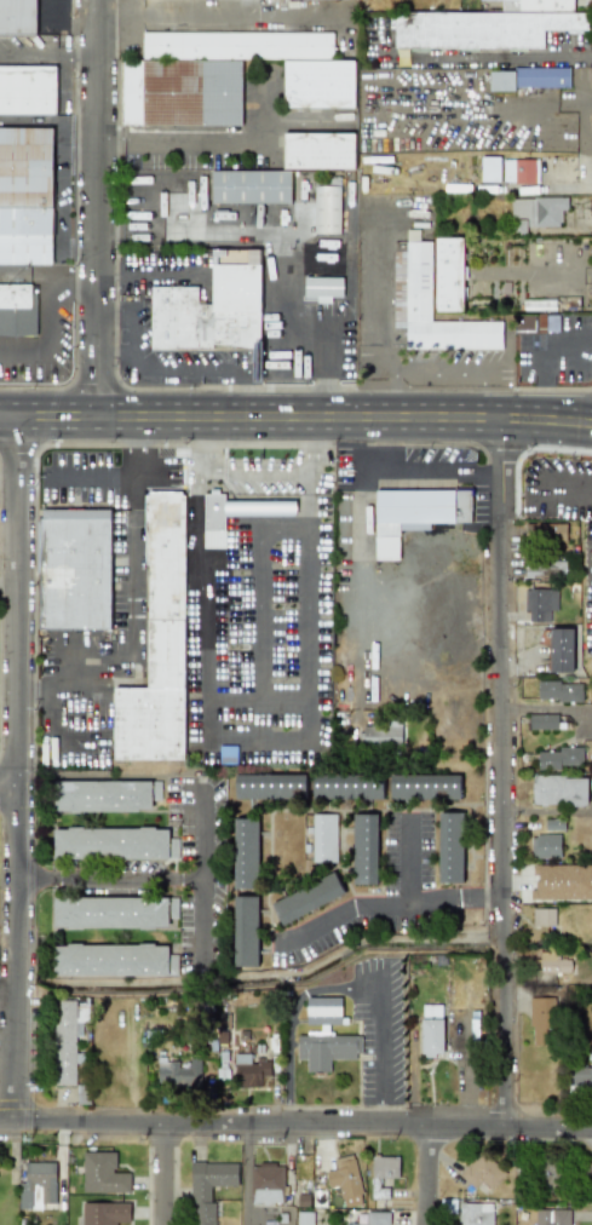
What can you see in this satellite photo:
road: (51, 11)
road: (218, 12)
building: (17, 16)
road: (130, 23)
building: (488, 25)
road: (50, 52)
road: (488, 56)
building: (202, 73)
building: (541, 76)
building: (500, 80)
building: (318, 84)
building: (27, 90)
road: (30, 121)
road: (235, 145)
building: (317, 150)
road: (61, 153)
building: (25, 167)
building: (488, 168)
building: (518, 171)
road: (168, 180)
building: (249, 186)
road: (99, 208)
building: (326, 209)
building: (535, 212)
building: (25, 236)
road: (293, 245)
road: (154, 271)
building: (448, 274)
building: (410, 281)
road: (74, 286)
building: (321, 288)
building: (211, 306)
building: (16, 309)
building: (535, 323)
road: (44, 339)
road: (142, 370)
road: (136, 393)
road: (295, 418)
road: (308, 470)
road: (430, 470)
road: (234, 472)
road: (107, 475)
building: (226, 514)
building: (413, 514)
building: (547, 531)
road: (357, 553)
building: (73, 568)
building: (545, 568)
road: (10, 586)
road: (255, 587)
building: (539, 602)
road: (130, 614)
road: (305, 637)
building: (157, 643)
building: (559, 645)
road: (208, 650)
building: (558, 689)
building: (544, 719)
building: (381, 732)
road: (64, 734)
road: (238, 736)
building: (559, 758)
road: (19, 771)
road: (501, 773)
building: (426, 783)
building: (269, 786)
building: (346, 786)
building: (557, 787)
road: (10, 792)
building: (104, 795)
road: (201, 836)
building: (322, 838)
building: (113, 842)
building: (545, 844)
building: (449, 847)
building: (363, 849)
building: (245, 853)
building: (562, 882)
road: (148, 890)
road: (416, 895)
building: (306, 898)
building: (113, 911)
road: (343, 916)
building: (542, 916)
building: (245, 931)
building: (113, 959)
building: (552, 962)
road: (289, 1019)
building: (541, 1020)
building: (430, 1029)
building: (324, 1036)
building: (67, 1037)
road: (383, 1052)
building: (248, 1070)
building: (178, 1074)
building: (582, 1077)
road: (295, 1128)
building: (481, 1172)
building: (552, 1173)
building: (102, 1174)
building: (381, 1174)
road: (163, 1175)
road: (426, 1177)
building: (344, 1180)
building: (266, 1183)
building: (36, 1185)
building: (208, 1187)
building: (104, 1213)
building: (475, 1213)
building: (551, 1217)
building: (304, 1218)
building: (374, 1218)

